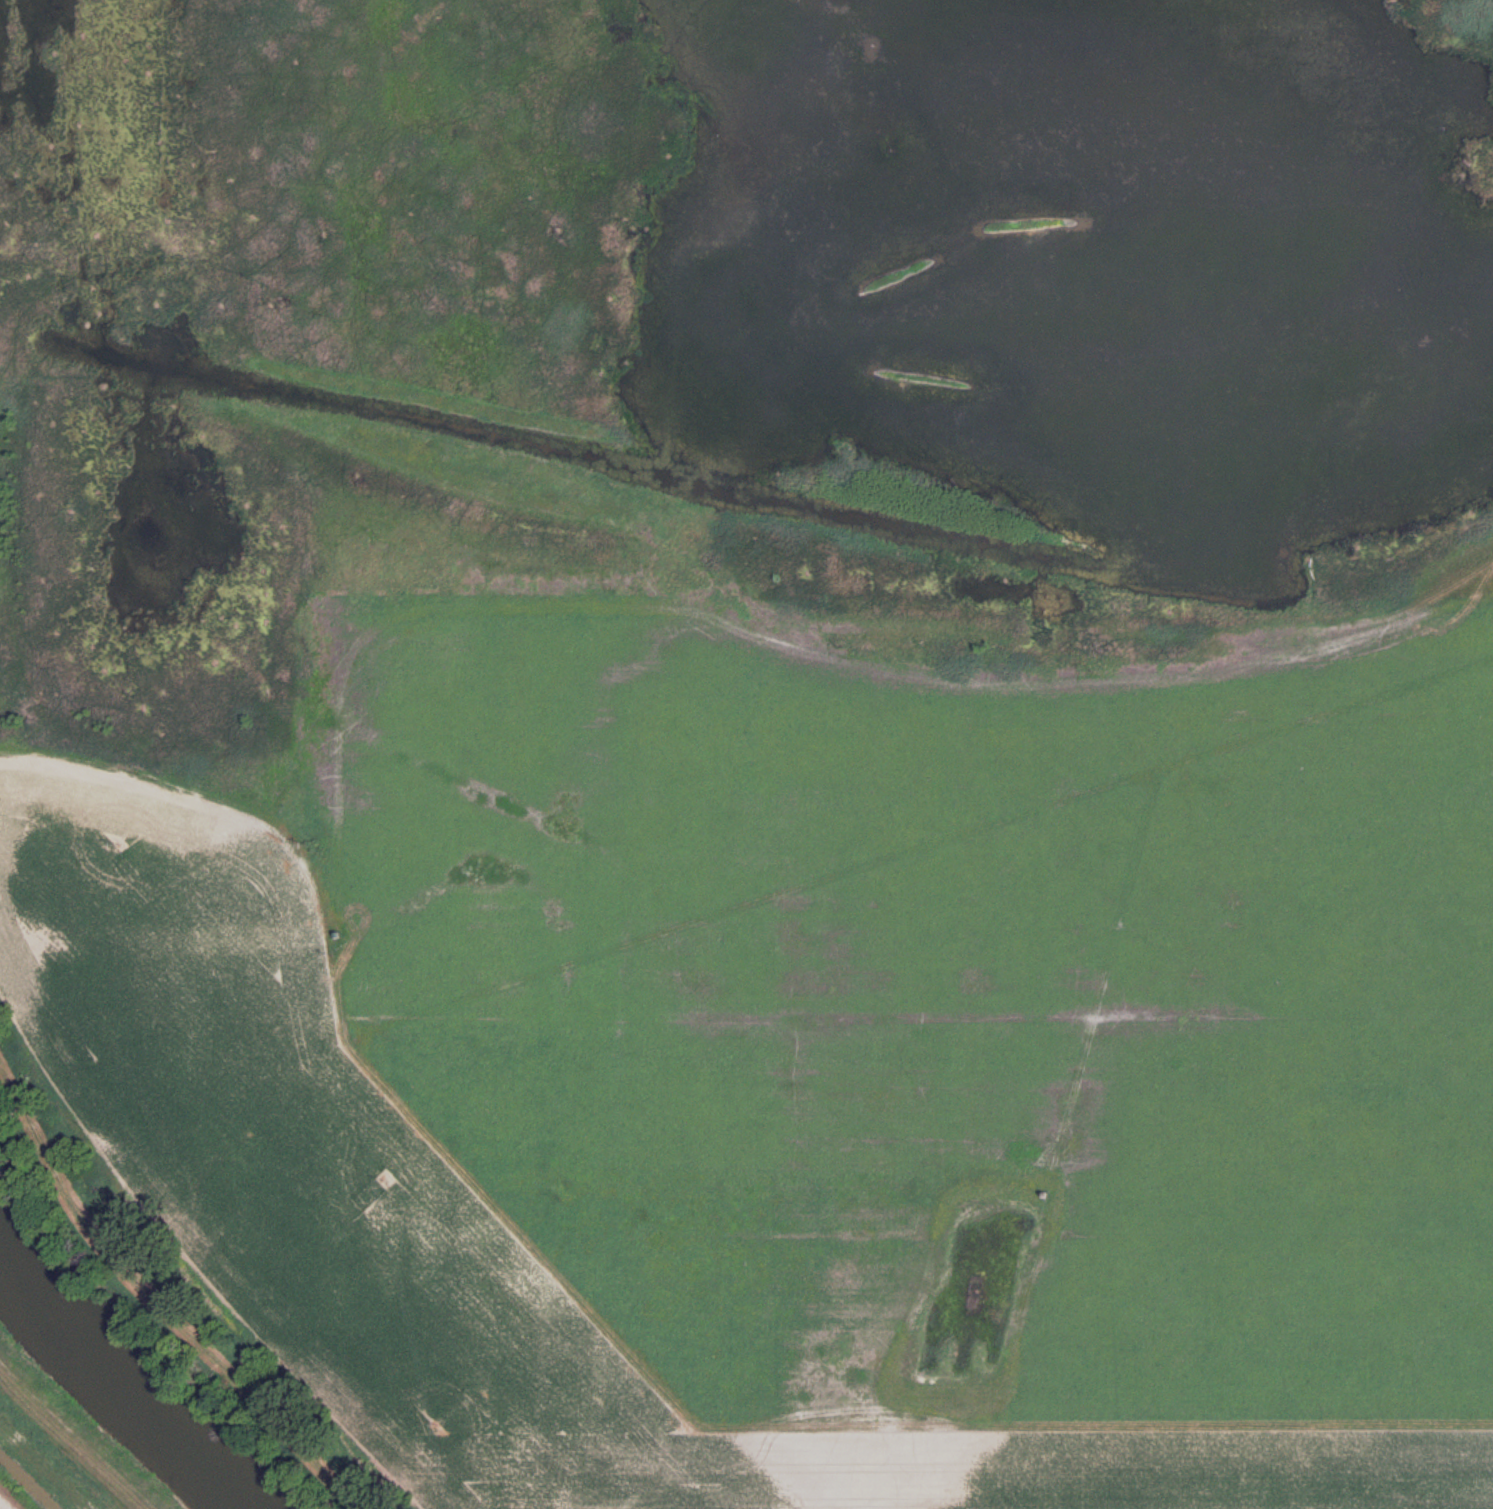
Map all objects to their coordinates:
river: (112, 1390)
crop: (1, 1507)

